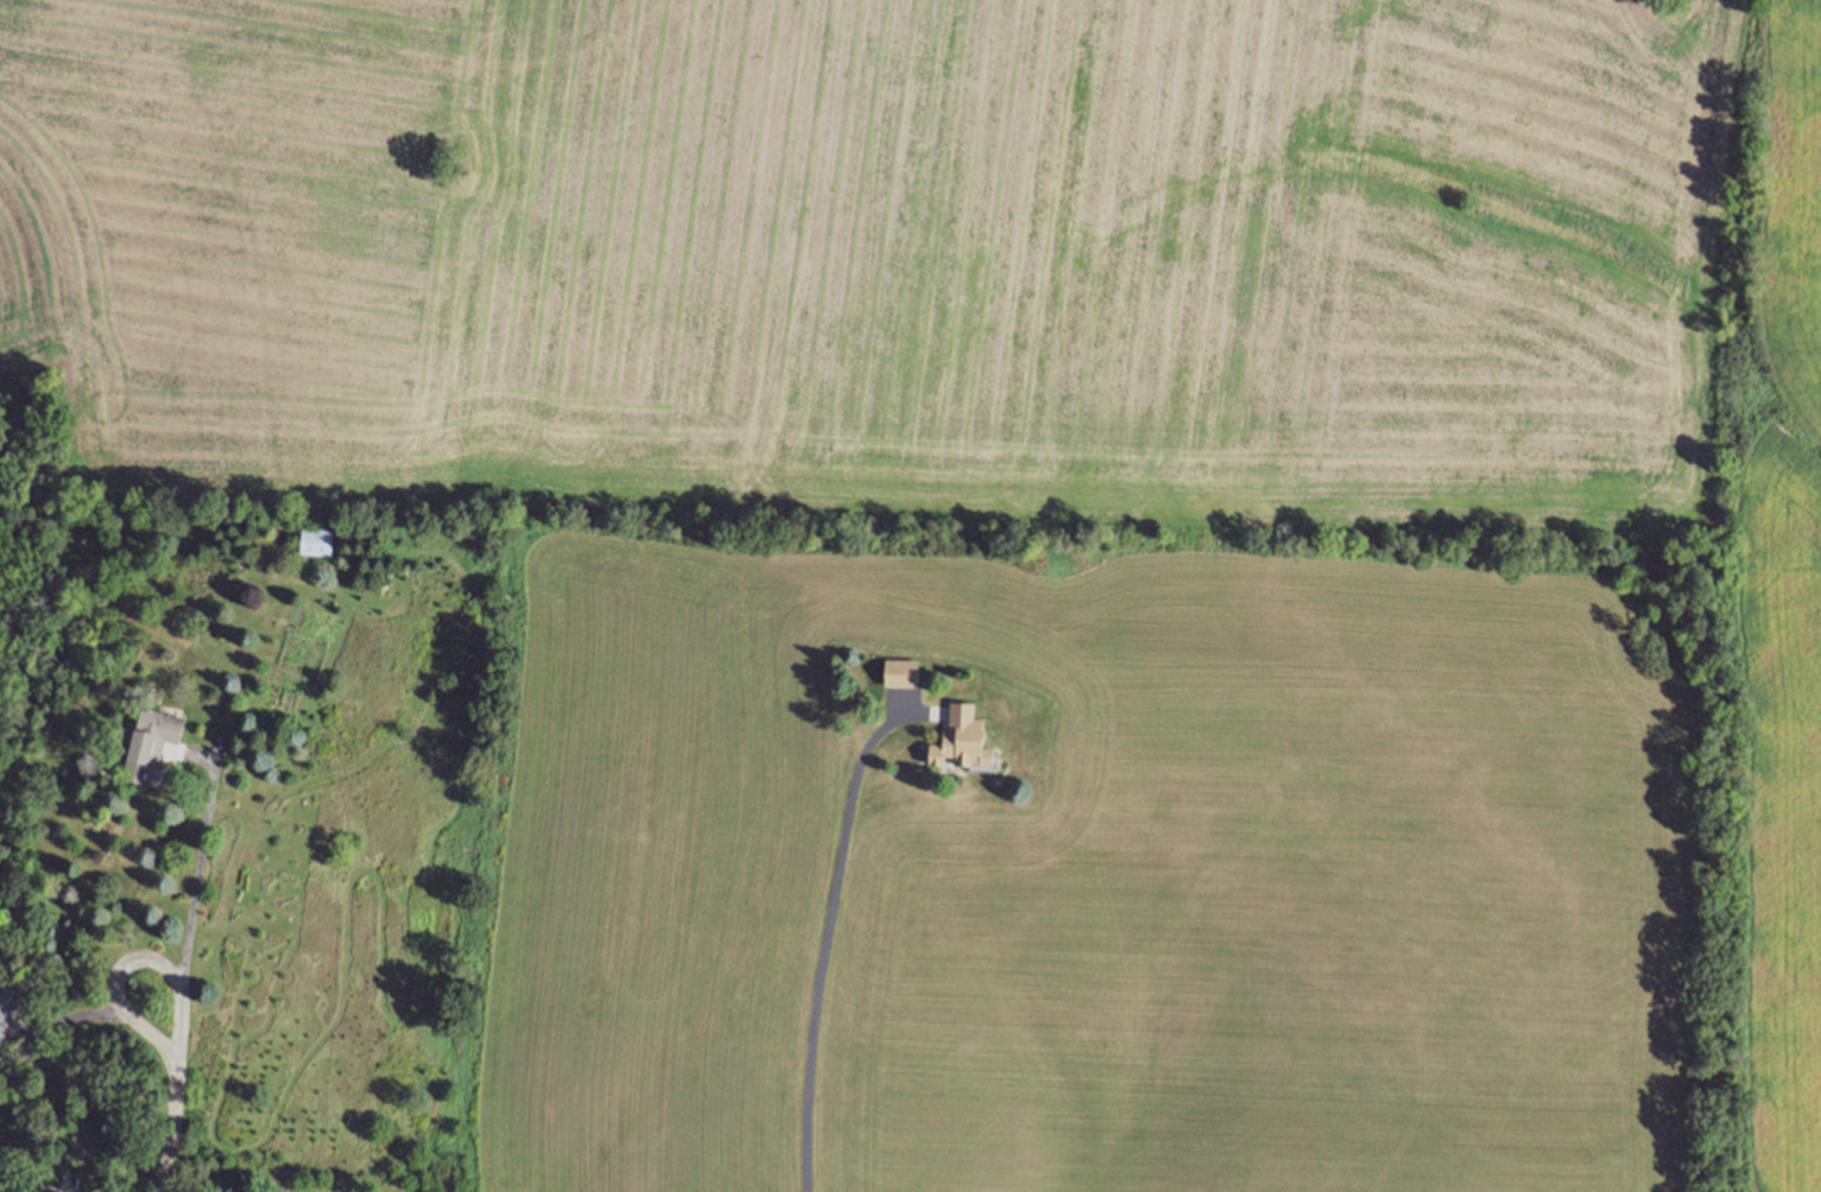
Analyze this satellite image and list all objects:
building: (316, 540)
building: (902, 672)
building: (961, 740)
building: (152, 746)
road: (196, 871)
road: (828, 930)
road: (112, 987)
building: (7, 1001)
building: (0, 1040)
road: (172, 1126)
building: (20, 1185)

